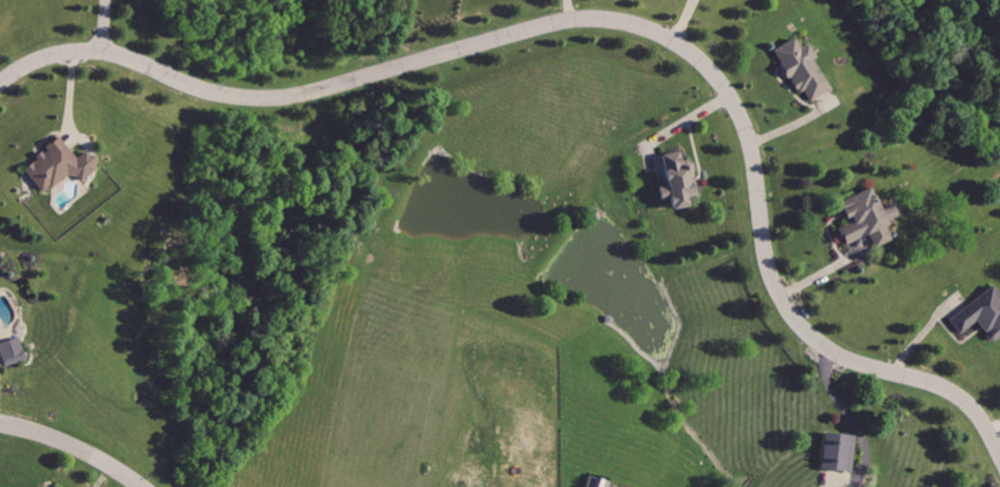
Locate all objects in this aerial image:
road: (611, 18)
road: (104, 25)
building: (802, 65)
road: (686, 115)
building: (55, 163)
building: (681, 181)
building: (865, 217)
road: (824, 271)
building: (981, 314)
road: (922, 333)
building: (13, 349)
road: (860, 429)
road: (76, 445)
building: (840, 451)
crop: (609, 474)
building: (598, 480)

